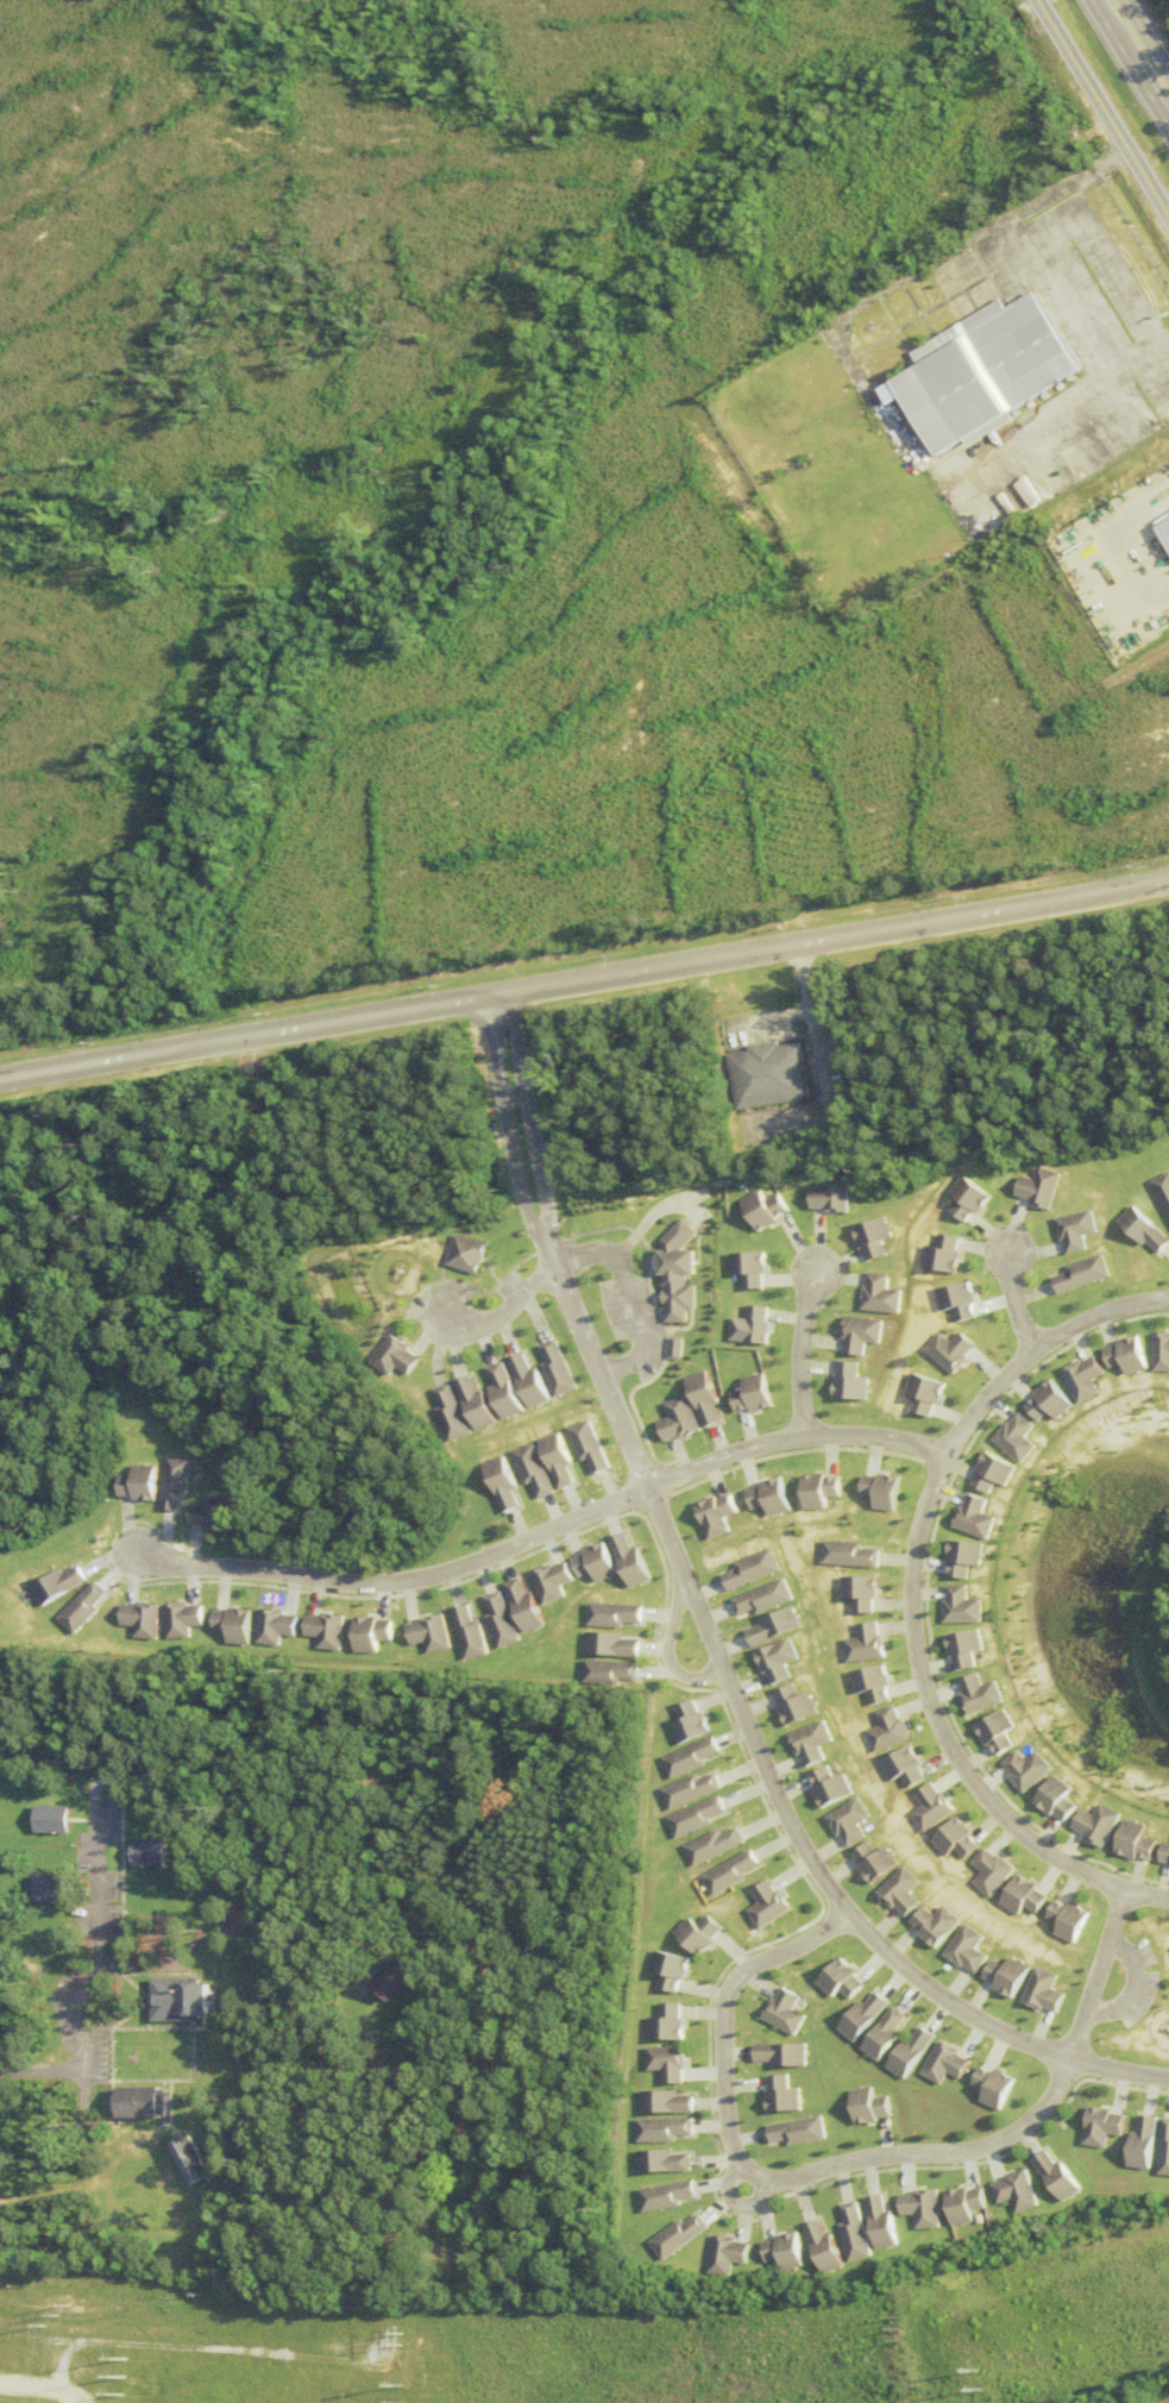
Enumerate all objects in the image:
road: (1101, 15)
road: (1145, 40)
road: (1139, 83)
road: (1104, 111)
road: (1082, 247)
building: (986, 372)
building: (1167, 527)
road: (584, 983)
building: (769, 1075)
road: (532, 1116)
road: (511, 1122)
building: (1035, 1187)
building: (1161, 1191)
building: (828, 1193)
building: (963, 1198)
building: (761, 1209)
building: (1071, 1229)
building: (1139, 1229)
building: (867, 1236)
building: (466, 1254)
building: (938, 1254)
building: (744, 1268)
building: (673, 1272)
building: (1077, 1273)
building: (875, 1294)
road: (1008, 1297)
road: (624, 1298)
building: (954, 1300)
road: (505, 1311)
building: (747, 1325)
building: (854, 1334)
road: (798, 1349)
building: (667, 1350)
building: (945, 1350)
building: (1158, 1351)
building: (1121, 1355)
building: (395, 1356)
building: (553, 1369)
building: (1077, 1378)
building: (524, 1381)
building: (843, 1382)
building: (501, 1391)
building: (919, 1392)
building: (748, 1393)
building: (699, 1397)
building: (1044, 1401)
building: (473, 1403)
building: (448, 1413)
building: (673, 1419)
road: (791, 1437)
building: (1011, 1438)
building: (584, 1445)
building: (553, 1458)
building: (529, 1469)
building: (987, 1472)
building: (182, 1481)
building: (498, 1482)
building: (145, 1483)
building: (815, 1491)
building: (878, 1491)
building: (765, 1497)
building: (215, 1513)
building: (711, 1514)
building: (969, 1517)
building: (847, 1554)
building: (957, 1557)
building: (629, 1561)
building: (593, 1562)
building: (748, 1569)
road: (397, 1580)
building: (551, 1581)
building: (62, 1585)
building: (857, 1593)
road: (911, 1595)
building: (760, 1598)
building: (522, 1605)
building: (956, 1606)
building: (87, 1608)
building: (614, 1614)
building: (144, 1618)
building: (186, 1619)
building: (499, 1620)
building: (235, 1625)
building: (277, 1626)
building: (769, 1626)
building: (327, 1630)
building: (469, 1632)
building: (371, 1633)
building: (429, 1633)
building: (862, 1643)
building: (612, 1645)
building: (960, 1648)
road: (667, 1652)
building: (773, 1659)
building: (610, 1671)
building: (869, 1684)
building: (975, 1694)
building: (790, 1705)
building: (686, 1723)
building: (885, 1730)
building: (993, 1731)
building: (807, 1742)
road: (760, 1749)
building: (687, 1757)
building: (901, 1768)
building: (1024, 1769)
building: (827, 1788)
building: (687, 1789)
building: (1054, 1799)
building: (930, 1808)
building: (693, 1817)
road: (239, 1818)
building: (848, 1821)
building: (1095, 1824)
building: (956, 1840)
building: (1133, 1842)
building: (711, 1845)
building: (1164, 1852)
building: (875, 1863)
building: (729, 1872)
building: (991, 1872)
building: (49, 1888)
building: (903, 1891)
building: (1026, 1897)
building: (766, 1905)
building: (1069, 1920)
building: (938, 1925)
building: (698, 1933)
building: (970, 1950)
building: (670, 1970)
road: (83, 1972)
road: (1098, 1972)
building: (1012, 1976)
building: (403, 1980)
building: (847, 1980)
road: (1135, 1985)
building: (1049, 1990)
building: (180, 1994)
building: (791, 2010)
building: (872, 2015)
building: (667, 2024)
building: (894, 2033)
building: (922, 2052)
building: (787, 2053)
building: (668, 2063)
building: (955, 2063)
road: (36, 2072)
building: (1003, 2087)
building: (791, 2094)
building: (142, 2100)
building: (667, 2102)
building: (879, 2104)
building: (1102, 2126)
building: (664, 2129)
building: (806, 2131)
building: (1142, 2144)
building: (1164, 2150)
building: (196, 2158)
building: (664, 2162)
building: (1058, 2176)
road: (768, 2181)
road: (75, 2190)
building: (1018, 2191)
building: (667, 2195)
building: (966, 2204)
road: (739, 2206)
building: (923, 2208)
building: (884, 2222)
building: (856, 2234)
building: (680, 2236)
building: (825, 2247)
building: (786, 2252)
building: (728, 2254)
power tower: (976, 2390)

